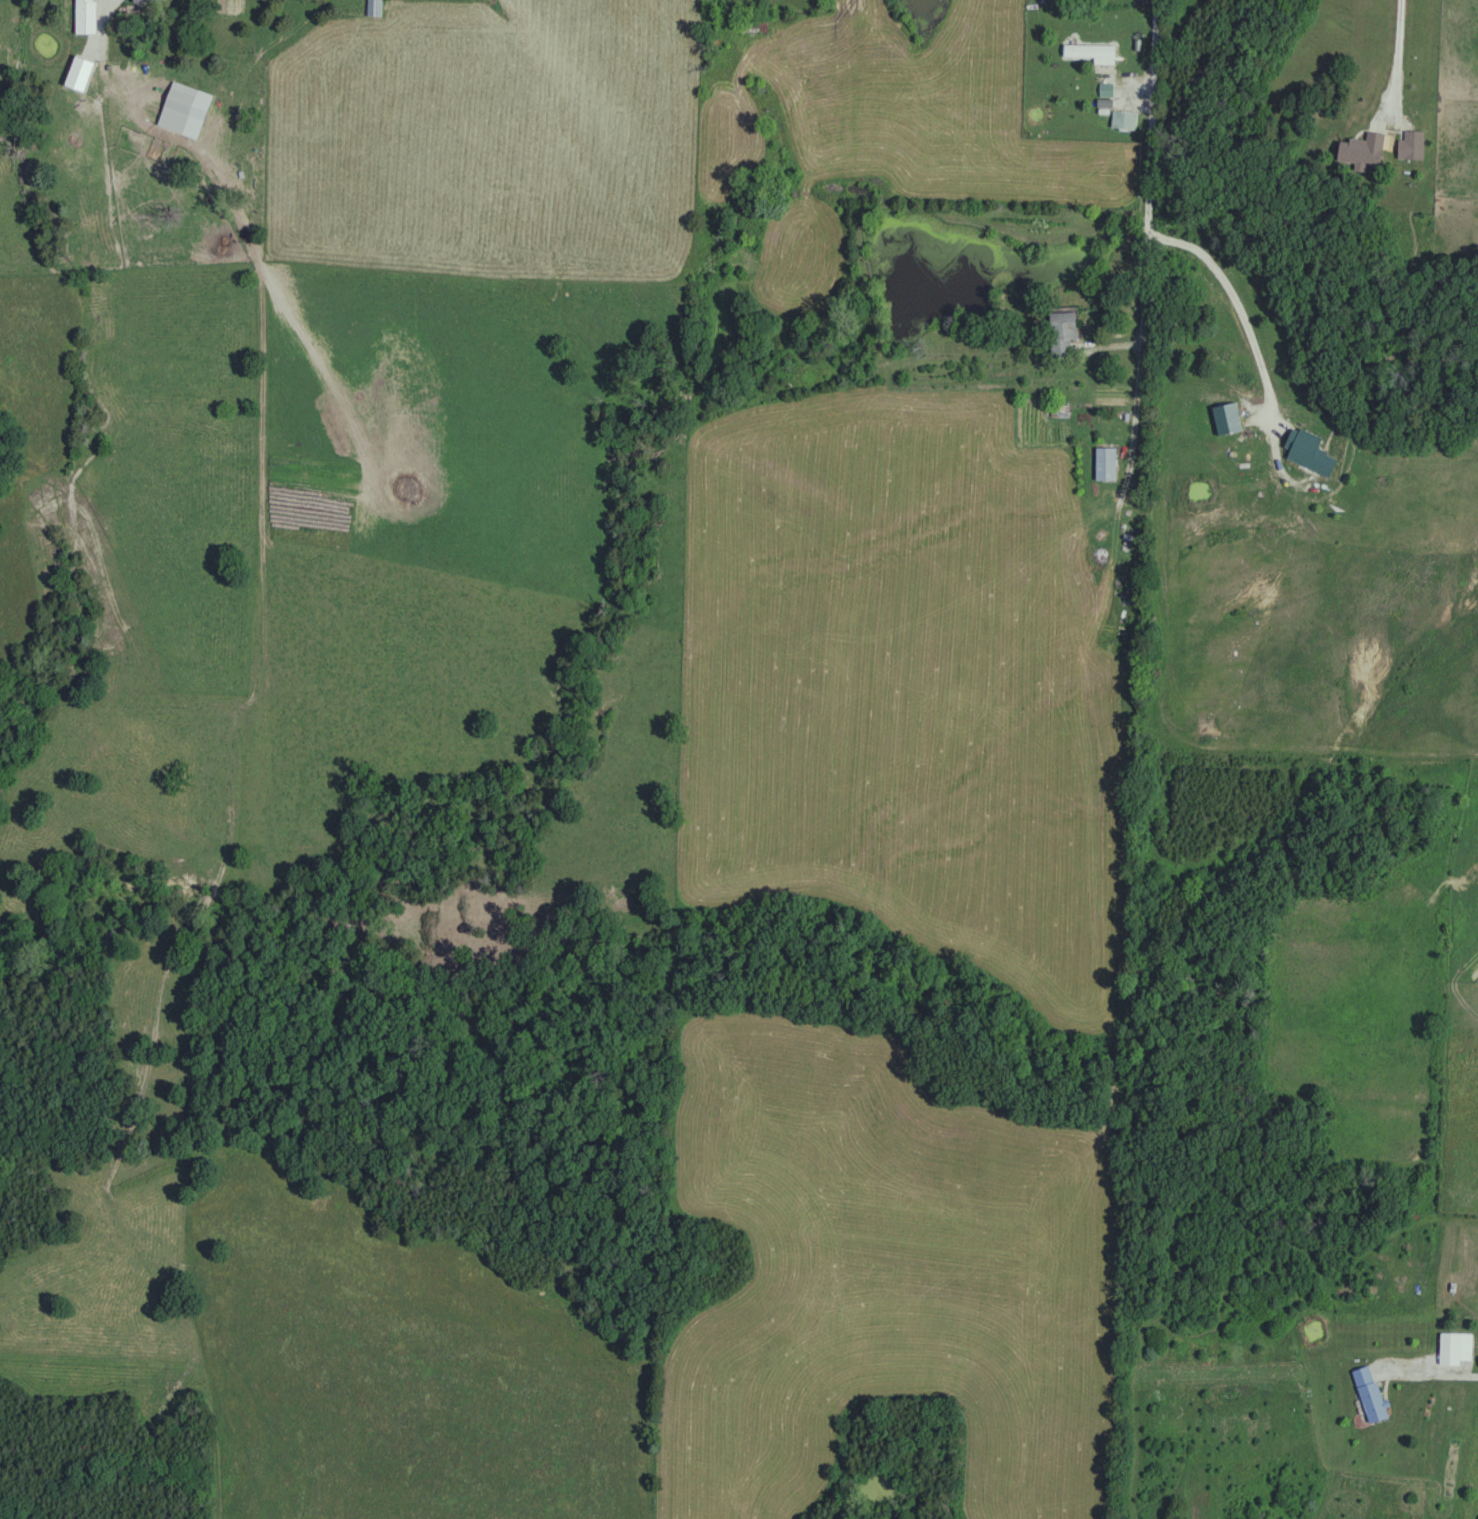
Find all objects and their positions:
building: (150, 1)
building: (375, 8)
building: (87, 16)
building: (759, 25)
building: (1093, 52)
road: (1392, 56)
road: (111, 65)
building: (1107, 90)
building: (179, 107)
building: (1125, 120)
building: (1411, 144)
building: (1364, 149)
road: (1146, 195)
road: (1230, 305)
building: (1064, 329)
building: (1107, 463)
building: (1456, 1349)
road: (1432, 1384)
building: (1371, 1394)

